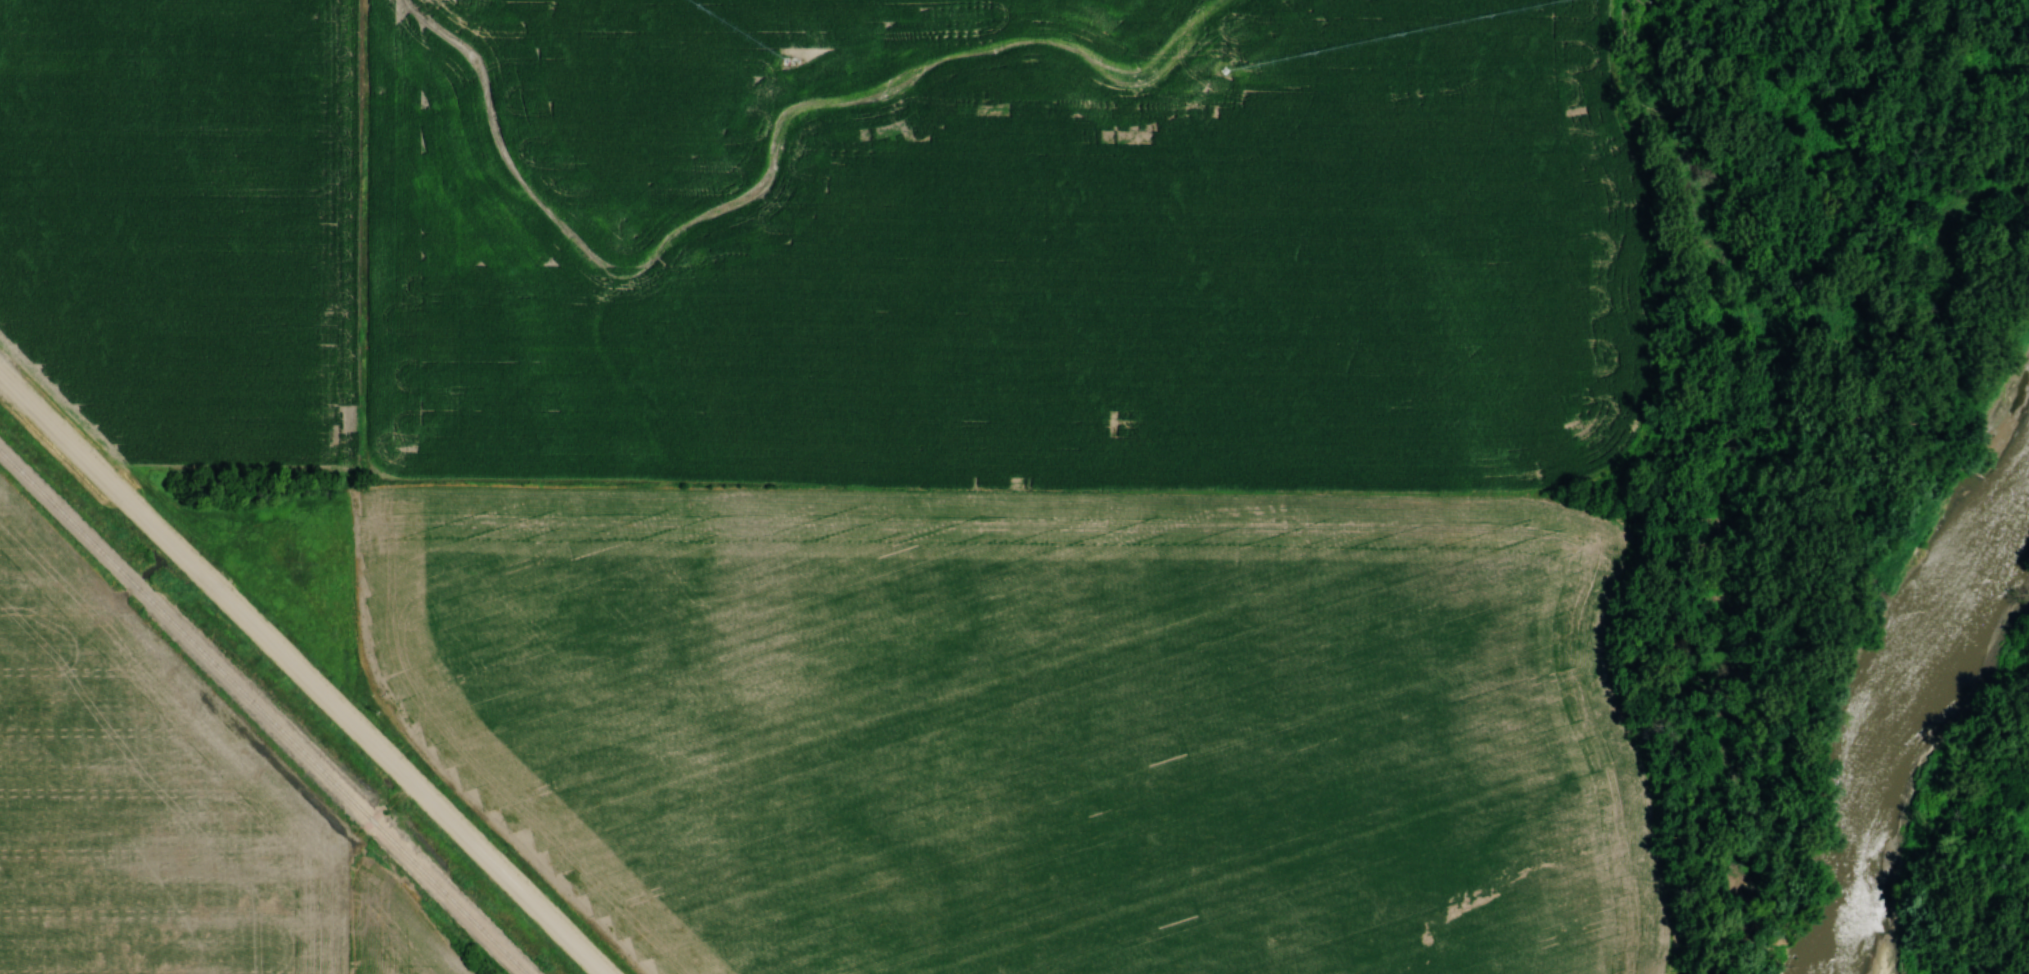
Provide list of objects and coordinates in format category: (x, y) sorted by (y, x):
road: (300, 674)
railway: (266, 708)
river: (1904, 713)

